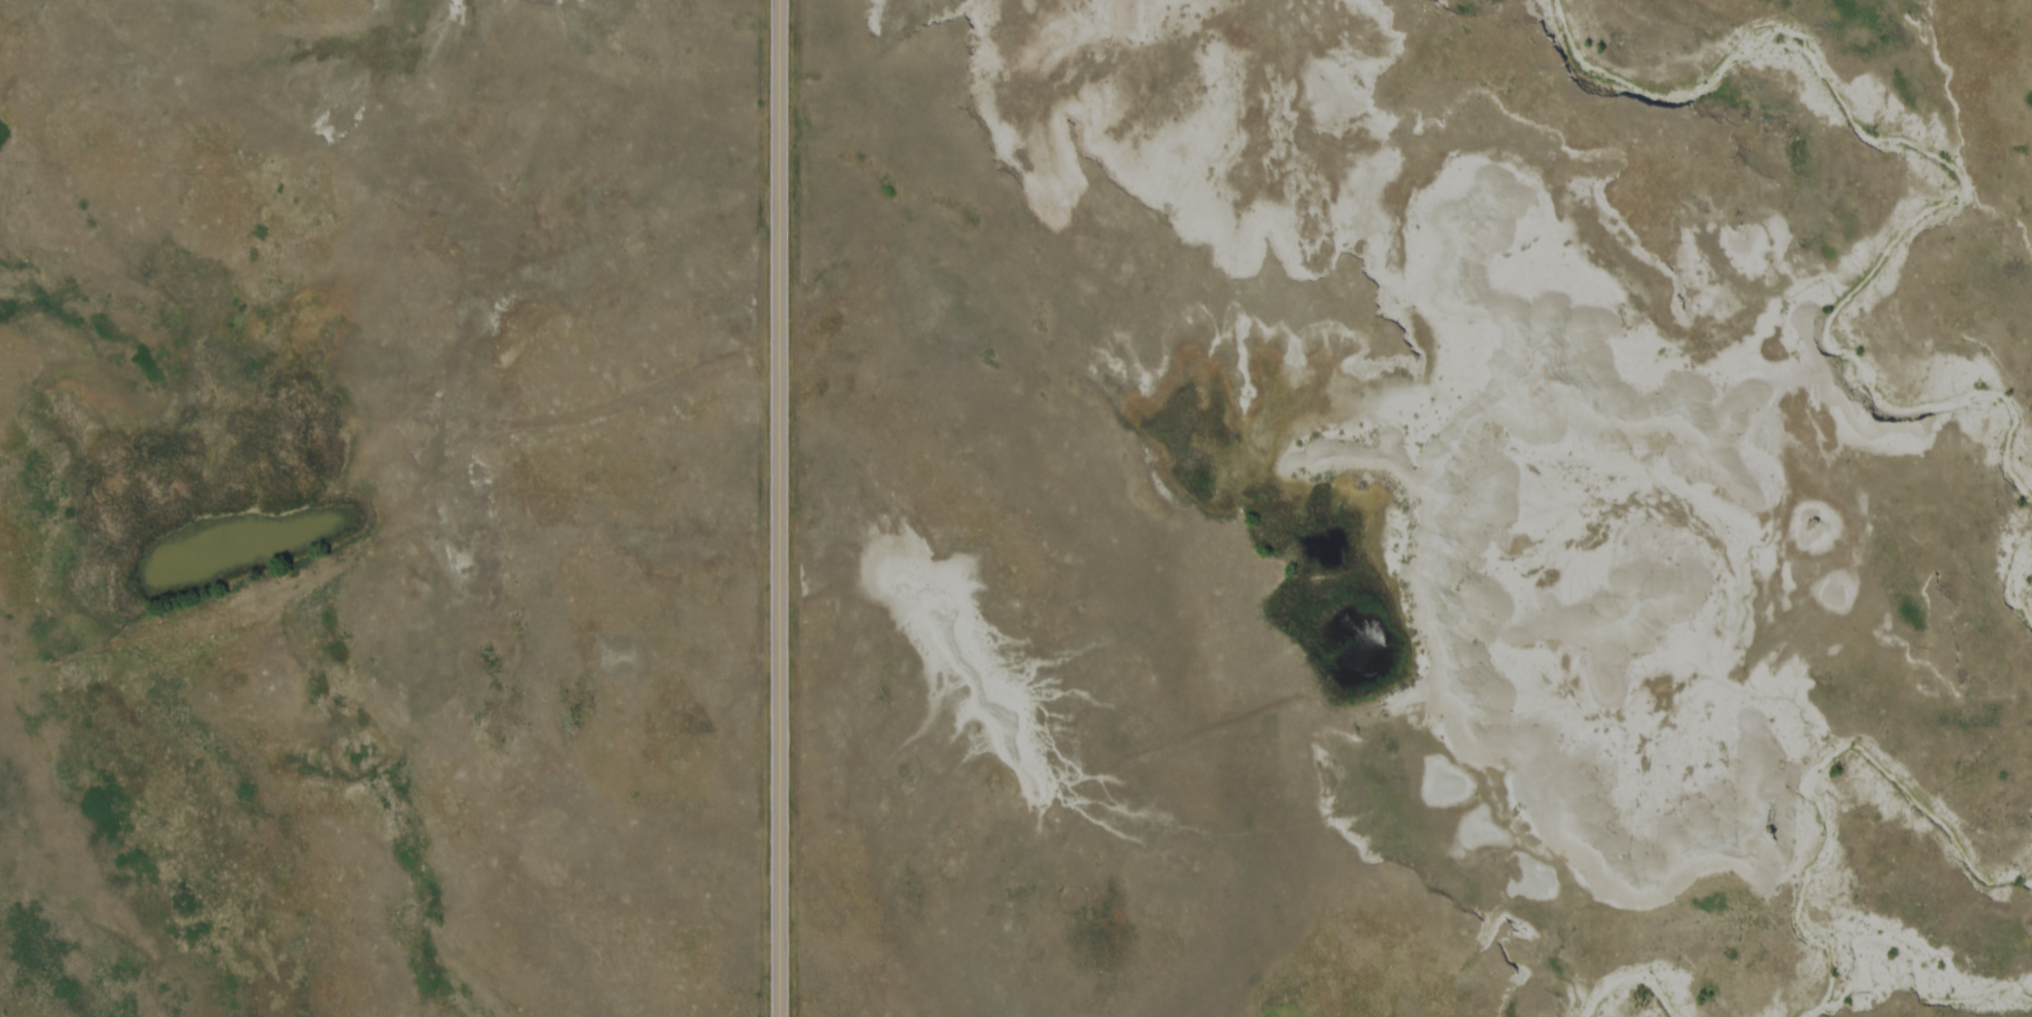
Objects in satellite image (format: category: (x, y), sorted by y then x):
road: (777, 508)
road: (388, 523)

